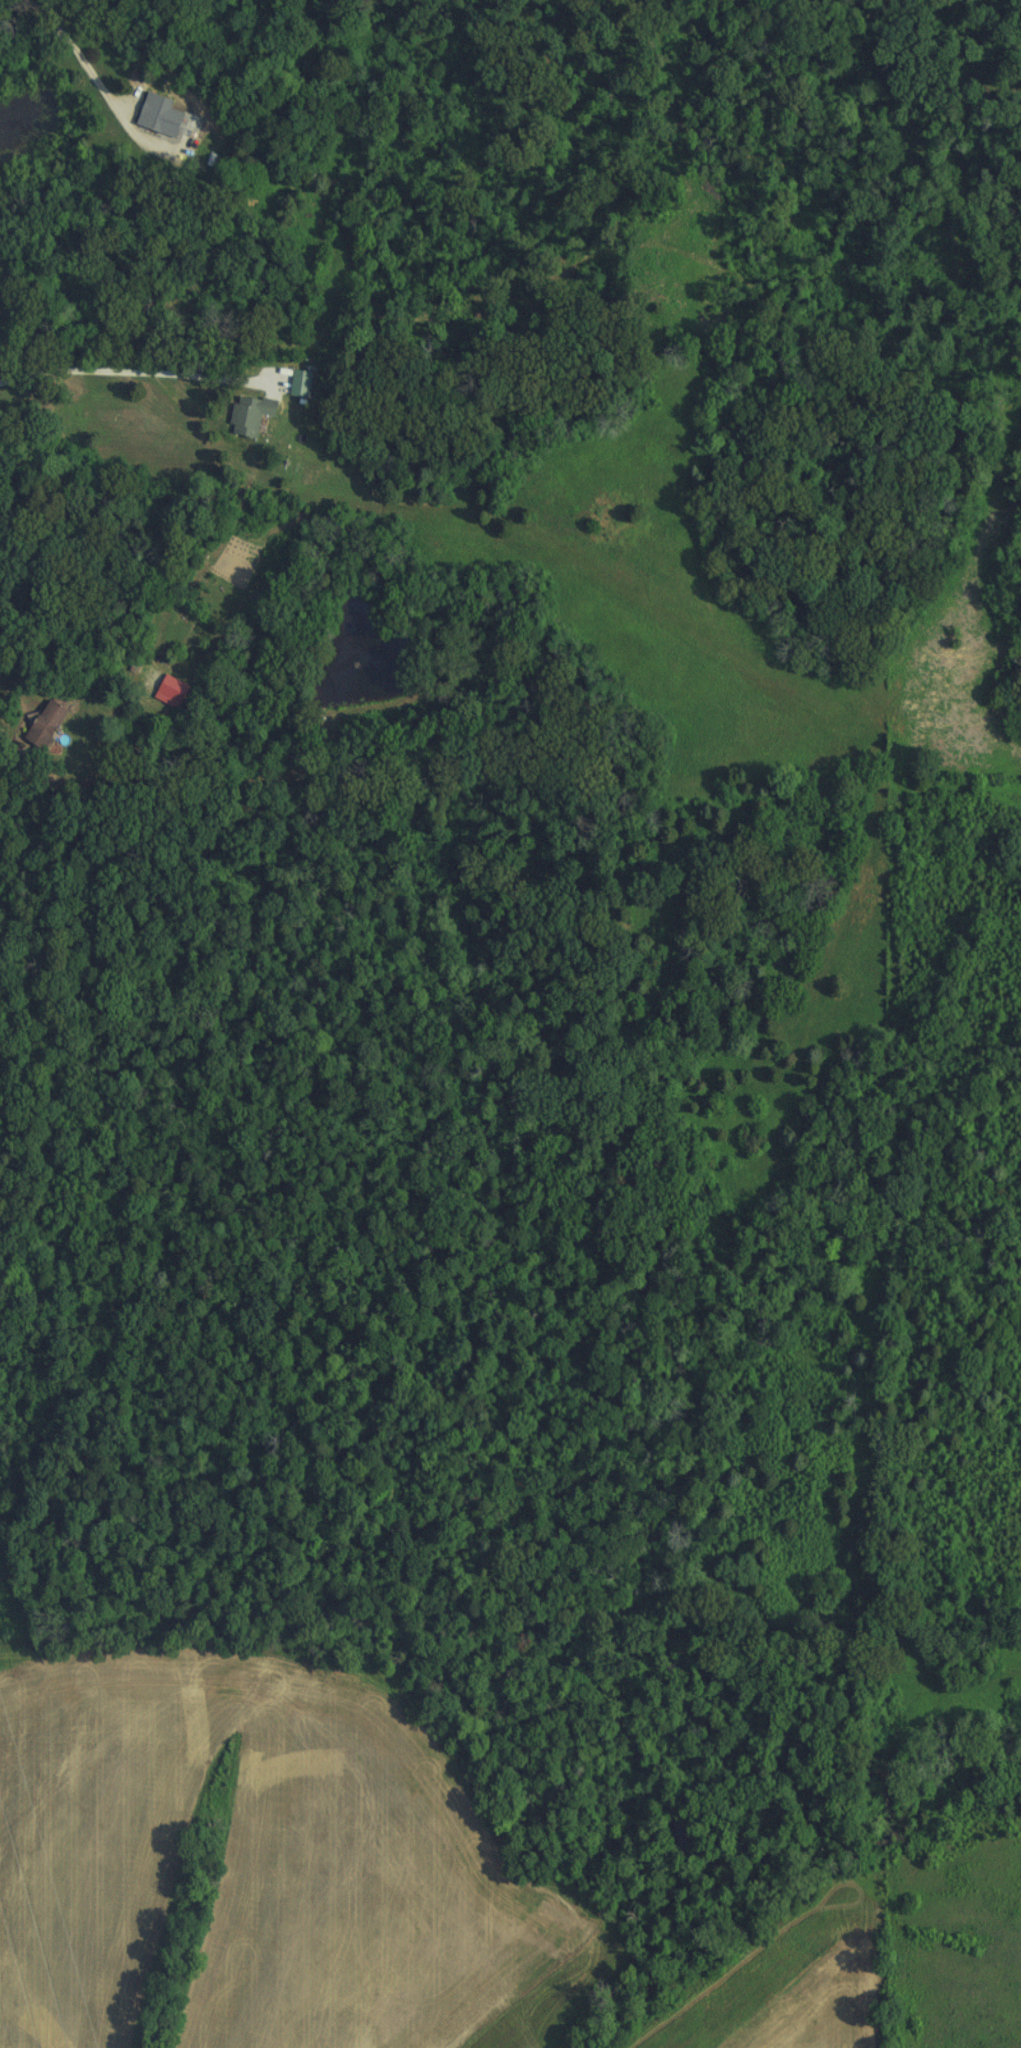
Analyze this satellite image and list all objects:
road: (86, 62)
building: (156, 112)
road: (131, 373)
building: (297, 382)
building: (250, 412)

